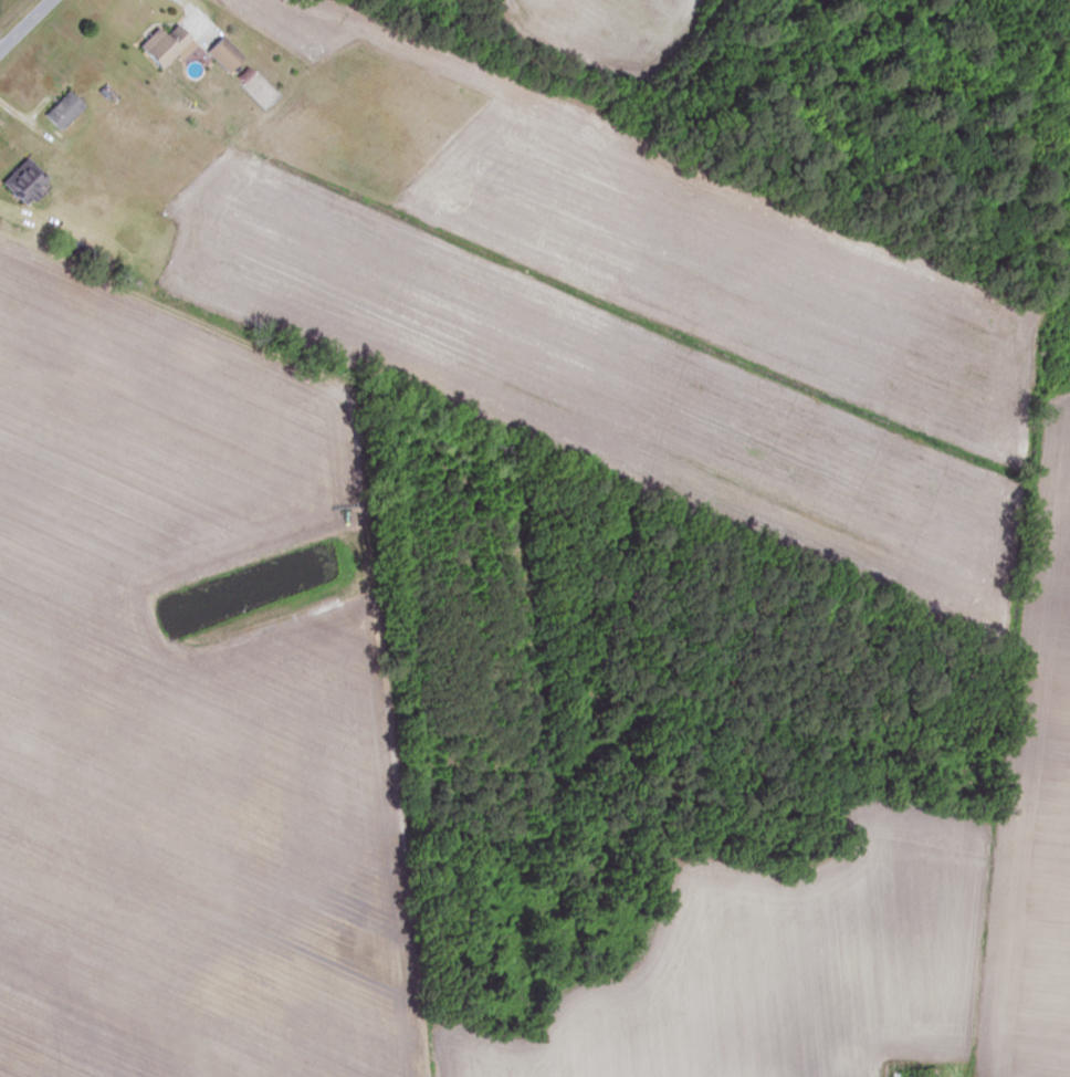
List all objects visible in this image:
road: (190, 10)
road: (23, 23)
building: (159, 44)
building: (221, 53)
building: (61, 109)
road: (30, 113)
building: (22, 181)
building: (856, 1064)
building: (919, 1073)

